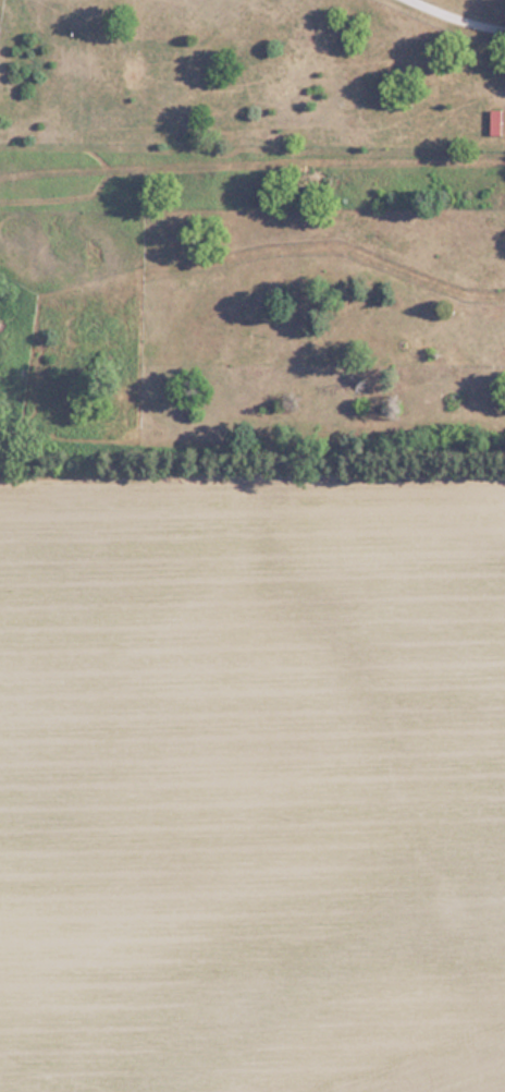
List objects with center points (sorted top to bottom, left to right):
road: (455, 17)
building: (494, 120)

